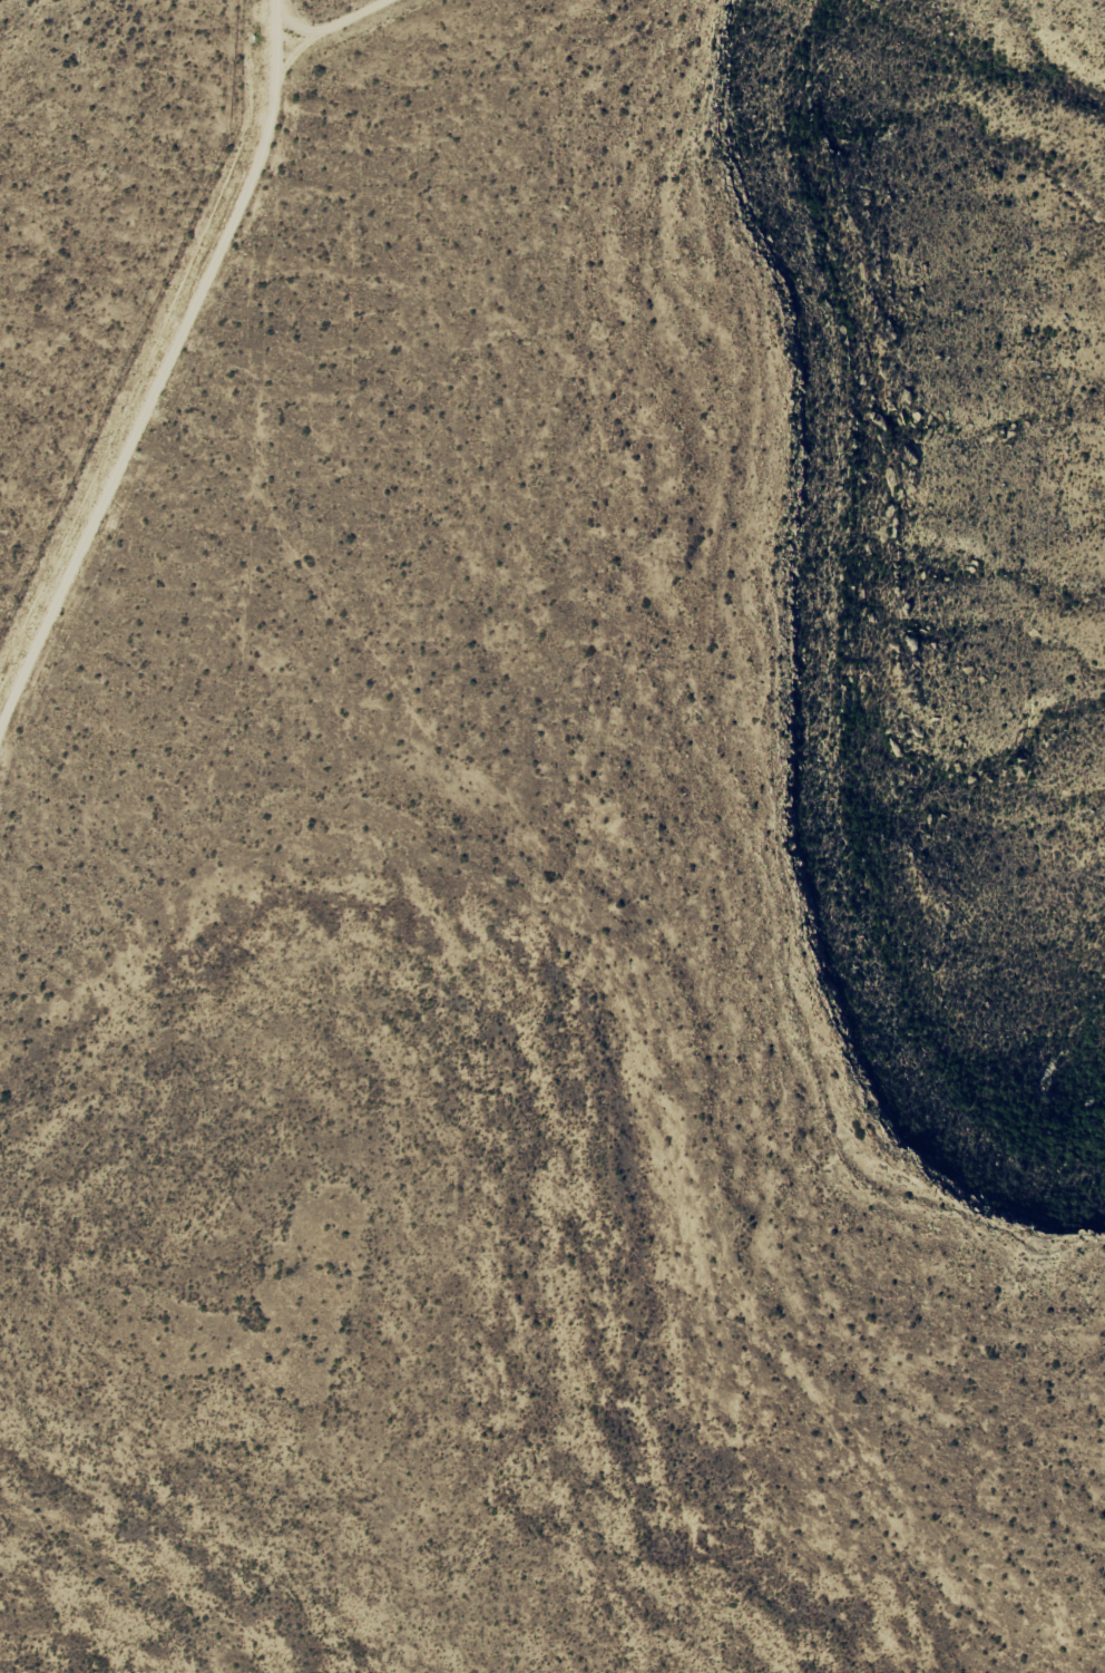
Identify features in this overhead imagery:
road: (145, 313)

